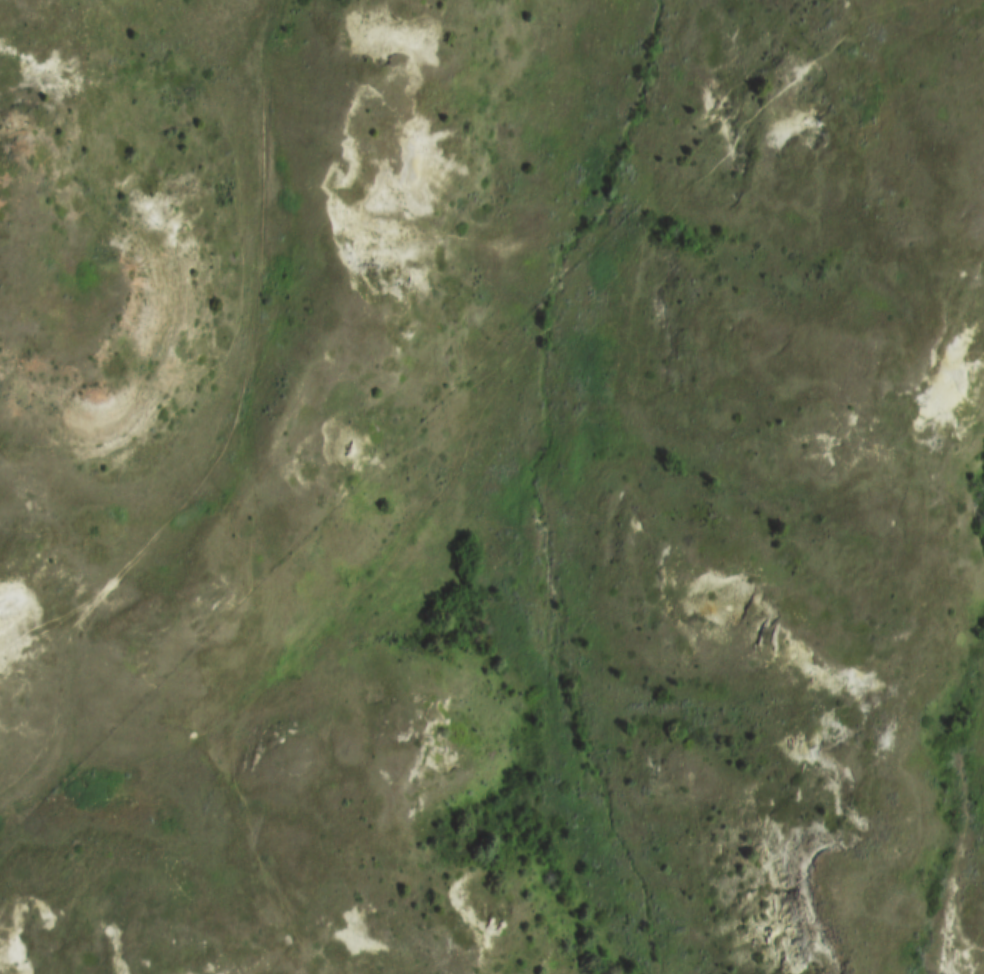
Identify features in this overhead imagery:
road: (231, 439)

